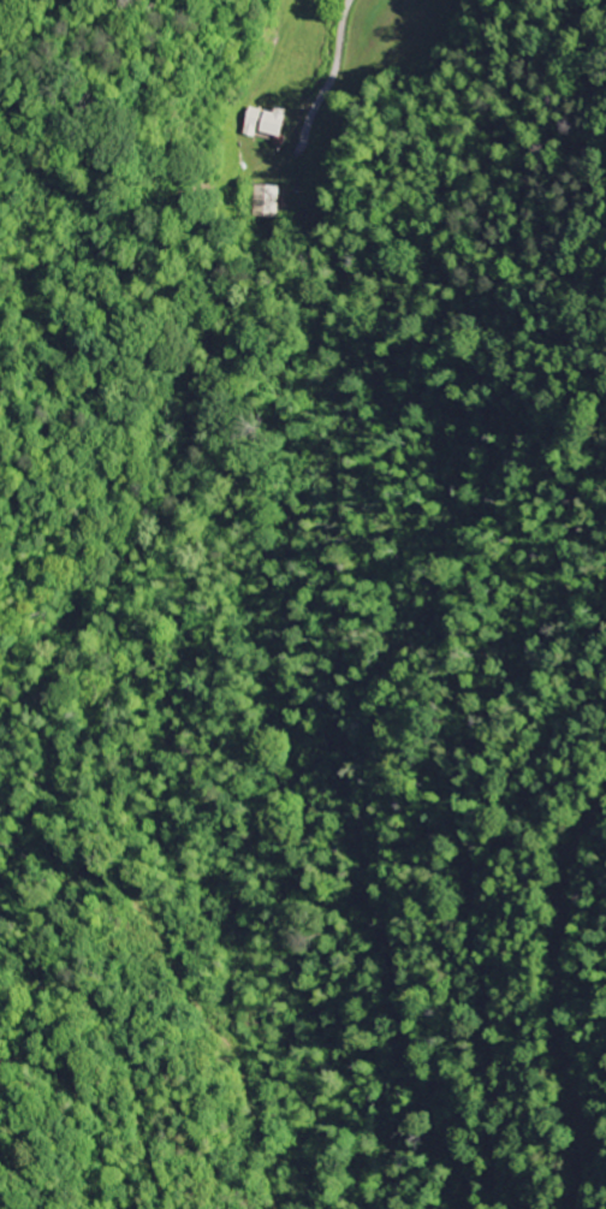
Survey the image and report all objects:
building: (262, 122)
building: (266, 201)

